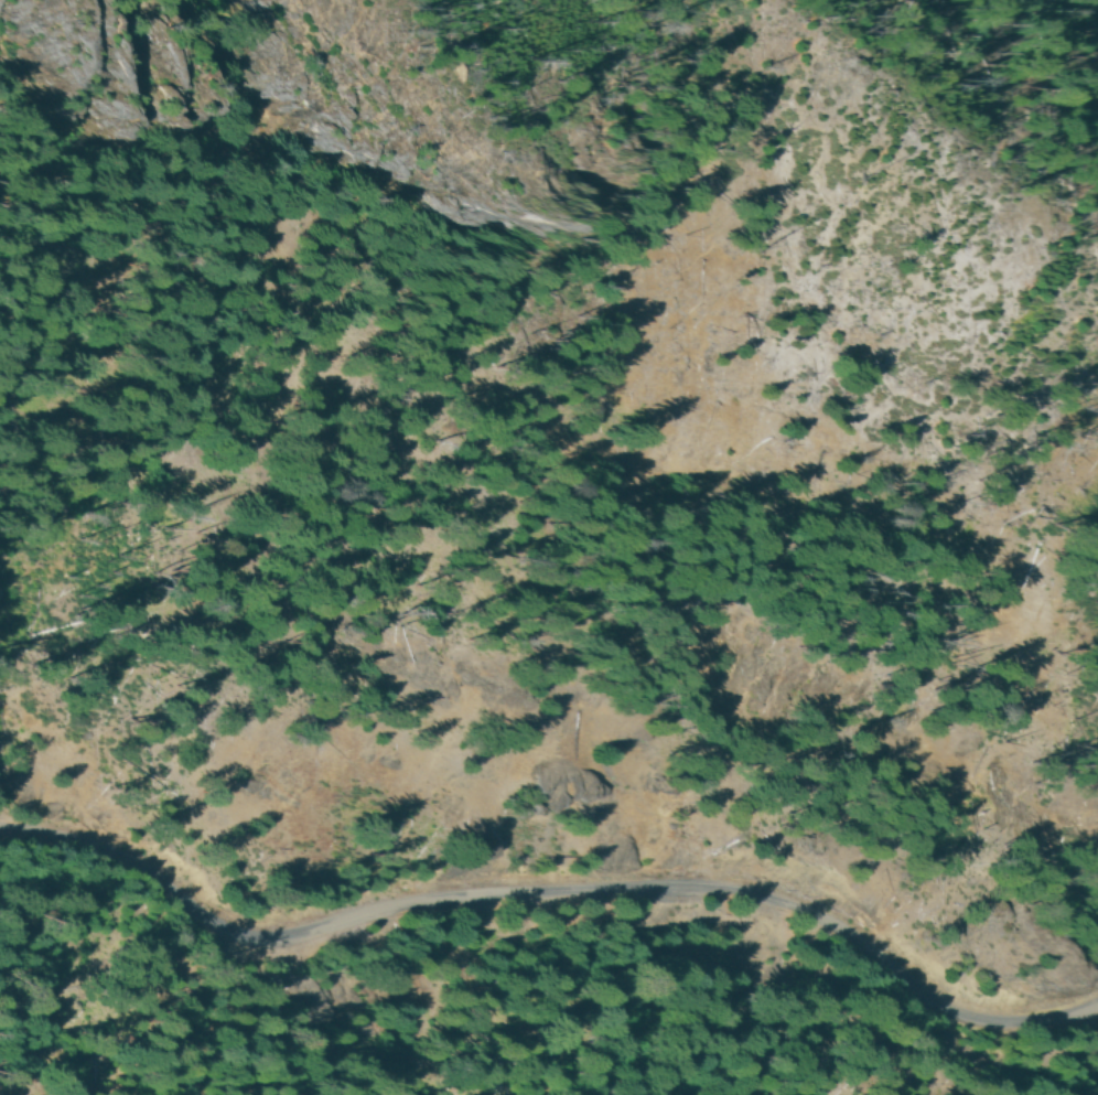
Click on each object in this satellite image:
road: (552, 885)

